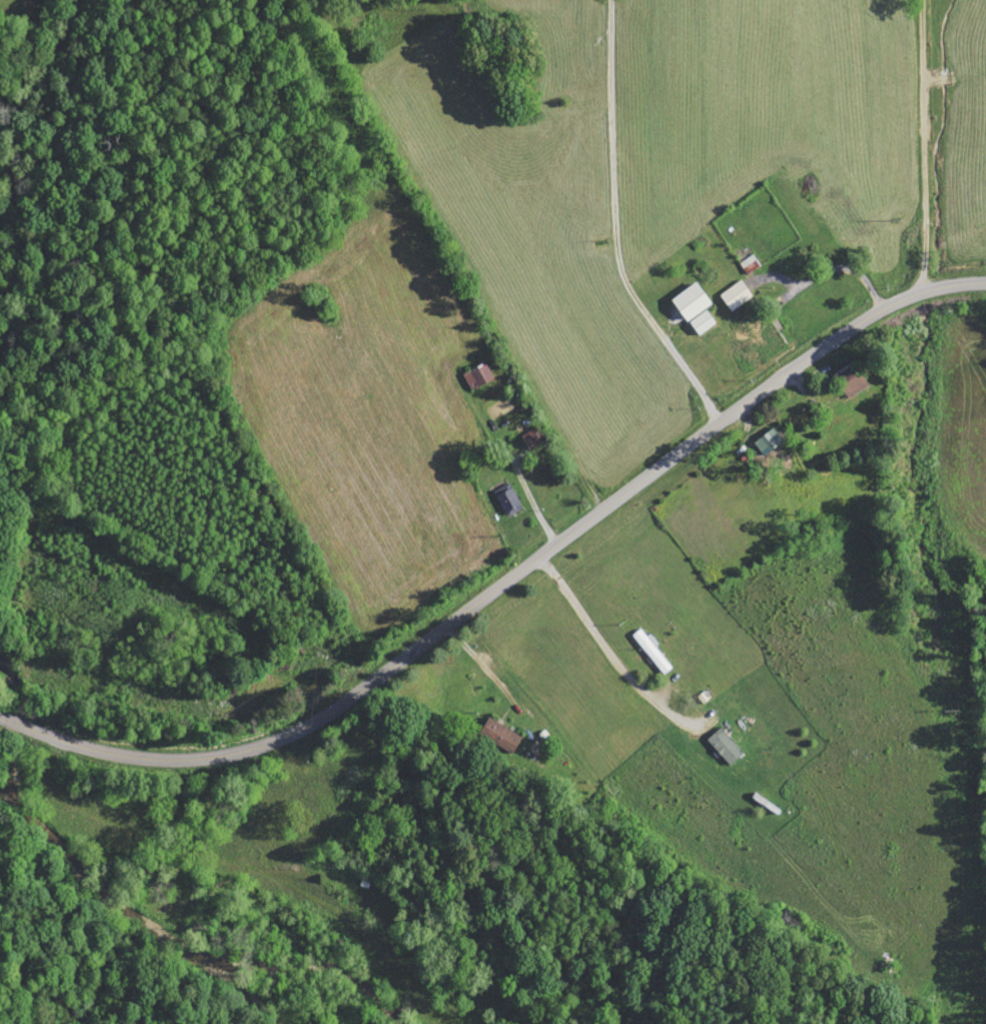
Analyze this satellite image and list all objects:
road: (925, 147)
building: (738, 296)
building: (694, 303)
building: (705, 323)
building: (480, 375)
building: (852, 381)
building: (536, 437)
building: (771, 441)
building: (510, 499)
road: (509, 581)
building: (653, 650)
building: (503, 735)
building: (727, 746)

